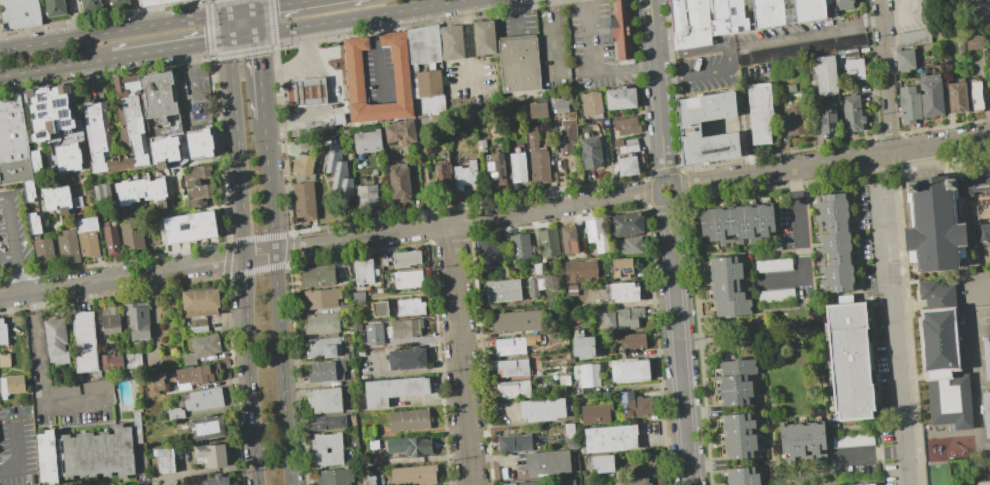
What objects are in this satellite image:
building: (961, 0)
building: (828, 1)
building: (966, 1)
building: (120, 2)
building: (155, 2)
road: (290, 2)
building: (844, 3)
building: (91, 5)
road: (253, 5)
road: (283, 5)
road: (227, 6)
building: (55, 8)
traffic signals: (254, 10)
road: (241, 11)
building: (19, 13)
traffic signals: (228, 13)
building: (760, 13)
road: (136, 14)
road: (514, 16)
road: (363, 17)
road: (78, 18)
road: (255, 22)
parking lot: (516, 23)
building: (690, 23)
road: (882, 25)
road: (228, 26)
building: (621, 29)
road: (114, 31)
road: (804, 33)
building: (945, 33)
traffic signals: (257, 35)
road: (589, 36)
building: (914, 36)
road: (243, 37)
road: (556, 37)
building: (484, 38)
traffic signals: (229, 40)
building: (975, 41)
building: (452, 42)
road: (468, 42)
building: (802, 48)
road: (171, 49)
parking lot: (553, 49)
parking lot: (593, 49)
building: (850, 51)
road: (310, 52)
road: (375, 58)
road: (728, 58)
building: (905, 58)
building: (947, 62)
building: (519, 64)
building: (430, 67)
building: (855, 67)
road: (56, 68)
road: (624, 70)
road: (231, 71)
road: (286, 72)
building: (826, 73)
building: (989, 74)
parking lot: (377, 75)
road: (260, 77)
building: (354, 82)
parking lot: (472, 83)
road: (657, 88)
building: (791, 88)
gas station: (313, 89)
building: (310, 91)
road: (314, 91)
building: (157, 93)
building: (931, 93)
building: (977, 95)
building: (957, 96)
rooftop solar panel: (40, 98)
building: (620, 98)
road: (889, 100)
rooftop solar panel: (59, 102)
building: (559, 103)
building: (590, 103)
building: (910, 103)
rooftop solar panel: (40, 107)
building: (537, 109)
building: (48, 111)
building: (760, 111)
building: (852, 112)
rooftop solar panel: (42, 113)
rooftop solar panel: (63, 113)
road: (294, 118)
building: (828, 119)
building: (797, 120)
building: (325, 123)
rooftop solar panel: (66, 124)
building: (626, 125)
building: (690, 126)
building: (400, 132)
rooftop solar panel: (43, 133)
building: (132, 136)
building: (566, 136)
building: (62, 139)
building: (366, 141)
building: (13, 142)
building: (616, 142)
building: (199, 143)
building: (630, 144)
building: (480, 145)
building: (163, 151)
building: (590, 152)
building: (68, 156)
building: (536, 157)
building: (34, 160)
road: (833, 160)
rooftop solar panel: (492, 166)
building: (627, 166)
building: (517, 167)
building: (495, 169)
building: (373, 171)
building: (195, 174)
building: (338, 174)
building: (465, 175)
rooftop solar panel: (495, 176)
building: (440, 178)
road: (897, 180)
road: (797, 181)
building: (398, 182)
building: (303, 186)
building: (28, 190)
building: (101, 191)
building: (141, 191)
road: (676, 191)
building: (199, 194)
building: (366, 195)
building: (55, 197)
building: (75, 201)
building: (311, 218)
building: (941, 220)
road: (464, 221)
road: (799, 221)
building: (739, 222)
road: (10, 223)
building: (34, 223)
building: (626, 223)
road: (5, 226)
rooftop solar panel: (183, 227)
building: (189, 227)
building: (984, 232)
parking lot: (14, 234)
building: (131, 234)
rooftop solar panel: (591, 234)
building: (596, 234)
building: (87, 236)
parking lot: (878, 236)
building: (110, 237)
building: (568, 239)
road: (879, 239)
building: (835, 242)
building: (548, 243)
building: (630, 245)
building: (67, 246)
building: (520, 247)
building: (42, 252)
building: (485, 252)
road: (7, 257)
building: (405, 258)
building: (383, 259)
building: (772, 265)
building: (623, 267)
building: (536, 268)
rooftop solar panel: (615, 269)
rooftop solar panel: (627, 269)
building: (579, 270)
building: (360, 273)
road: (17, 275)
road: (137, 275)
building: (316, 276)
building: (407, 279)
parking lot: (976, 284)
building: (535, 286)
building: (726, 286)
road: (987, 286)
building: (571, 288)
building: (502, 290)
building: (623, 291)
road: (245, 294)
building: (774, 295)
building: (357, 296)
building: (319, 298)
building: (200, 302)
road: (277, 302)
building: (344, 307)
building: (409, 307)
building: (379, 308)
building: (622, 317)
building: (110, 319)
building: (136, 319)
building: (517, 321)
building: (321, 322)
building: (404, 327)
building: (197, 329)
building: (349, 329)
building: (2, 333)
building: (55, 340)
building: (375, 340)
building: (84, 341)
building: (631, 341)
road: (679, 342)
building: (512, 344)
building: (582, 346)
building: (322, 347)
building: (201, 348)
road: (459, 354)
building: (985, 355)
building: (405, 358)
building: (943, 358)
building: (4, 359)
building: (111, 361)
building: (849, 361)
building: (132, 362)
building: (512, 367)
building: (629, 370)
building: (326, 371)
building: (193, 376)
building: (586, 376)
building: (564, 379)
building: (734, 381)
road: (37, 382)
building: (154, 382)
building: (10, 385)
building: (97, 385)
road: (893, 387)
building: (513, 389)
building: (392, 390)
building: (62, 391)
rooftop solar panel: (630, 396)
rooftop solar panel: (623, 398)
building: (203, 399)
building: (324, 400)
building: (634, 405)
building: (542, 409)
building: (986, 412)
rooftop solar panel: (989, 412)
building: (174, 413)
building: (594, 414)
building: (408, 420)
building: (328, 422)
building: (136, 427)
building: (206, 427)
building: (737, 436)
building: (609, 437)
building: (850, 439)
building: (802, 441)
building: (514, 443)
building: (416, 446)
road: (17, 448)
rooftop solar panel: (519, 448)
building: (326, 449)
rooftop solar panel: (509, 449)
building: (85, 454)
building: (211, 454)
road: (868, 454)
building: (164, 459)
building: (546, 462)
building: (601, 463)
building: (413, 474)
building: (741, 476)
building: (334, 477)
building: (367, 479)
building: (217, 480)
building: (566, 481)
building: (635, 482)
building: (524, 483)
building: (587, 484)
building: (866, 484)

